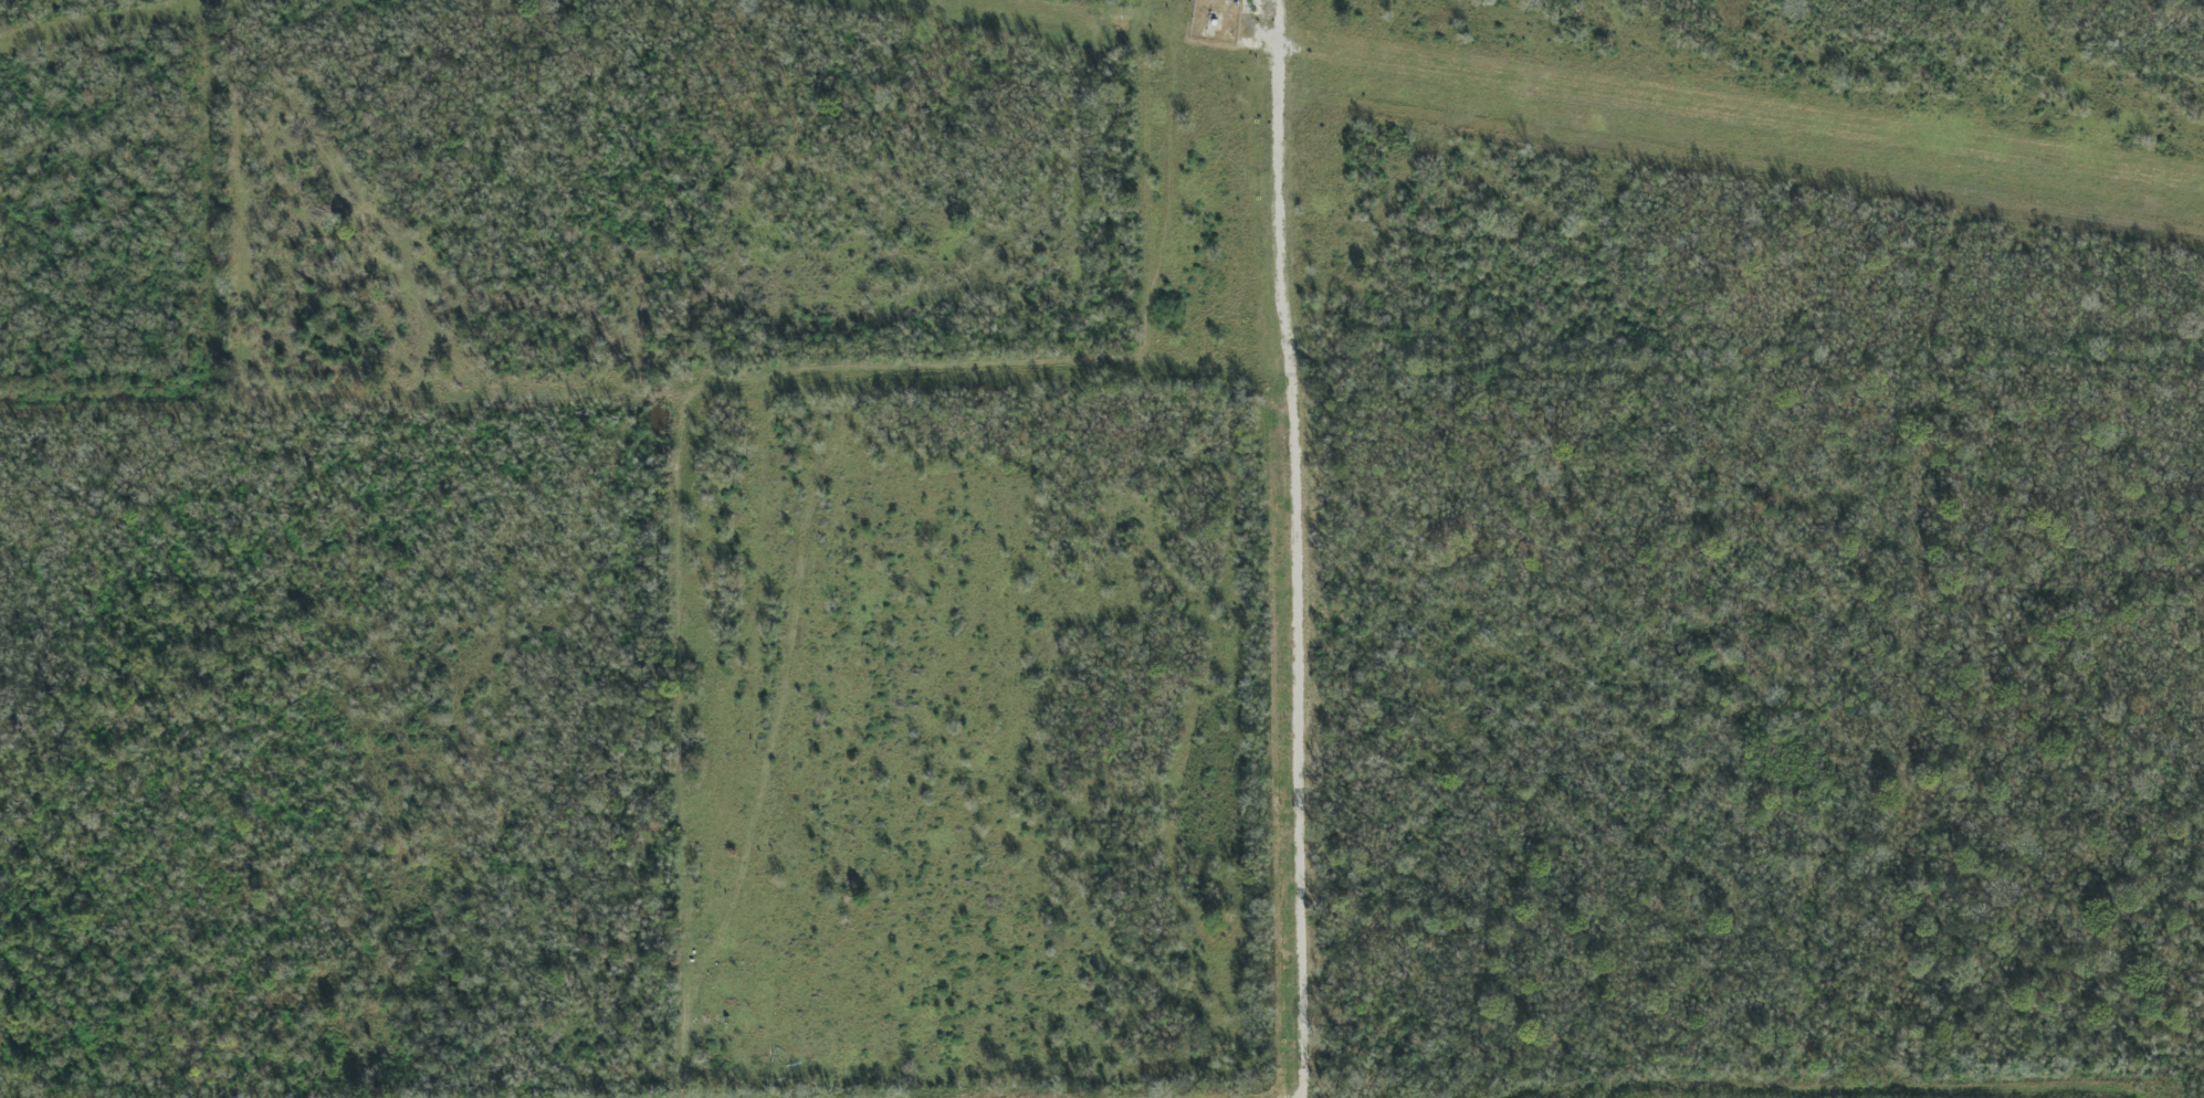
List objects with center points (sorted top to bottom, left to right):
road: (122, 439)

